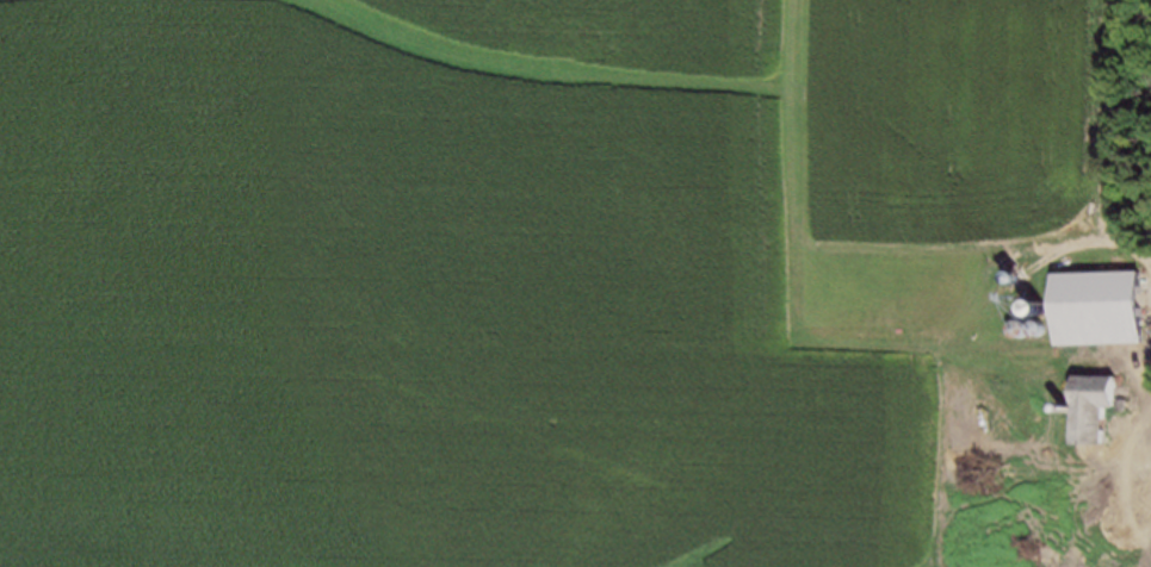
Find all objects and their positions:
road: (1109, 120)
road: (1134, 247)
building: (1103, 306)
building: (1100, 404)

